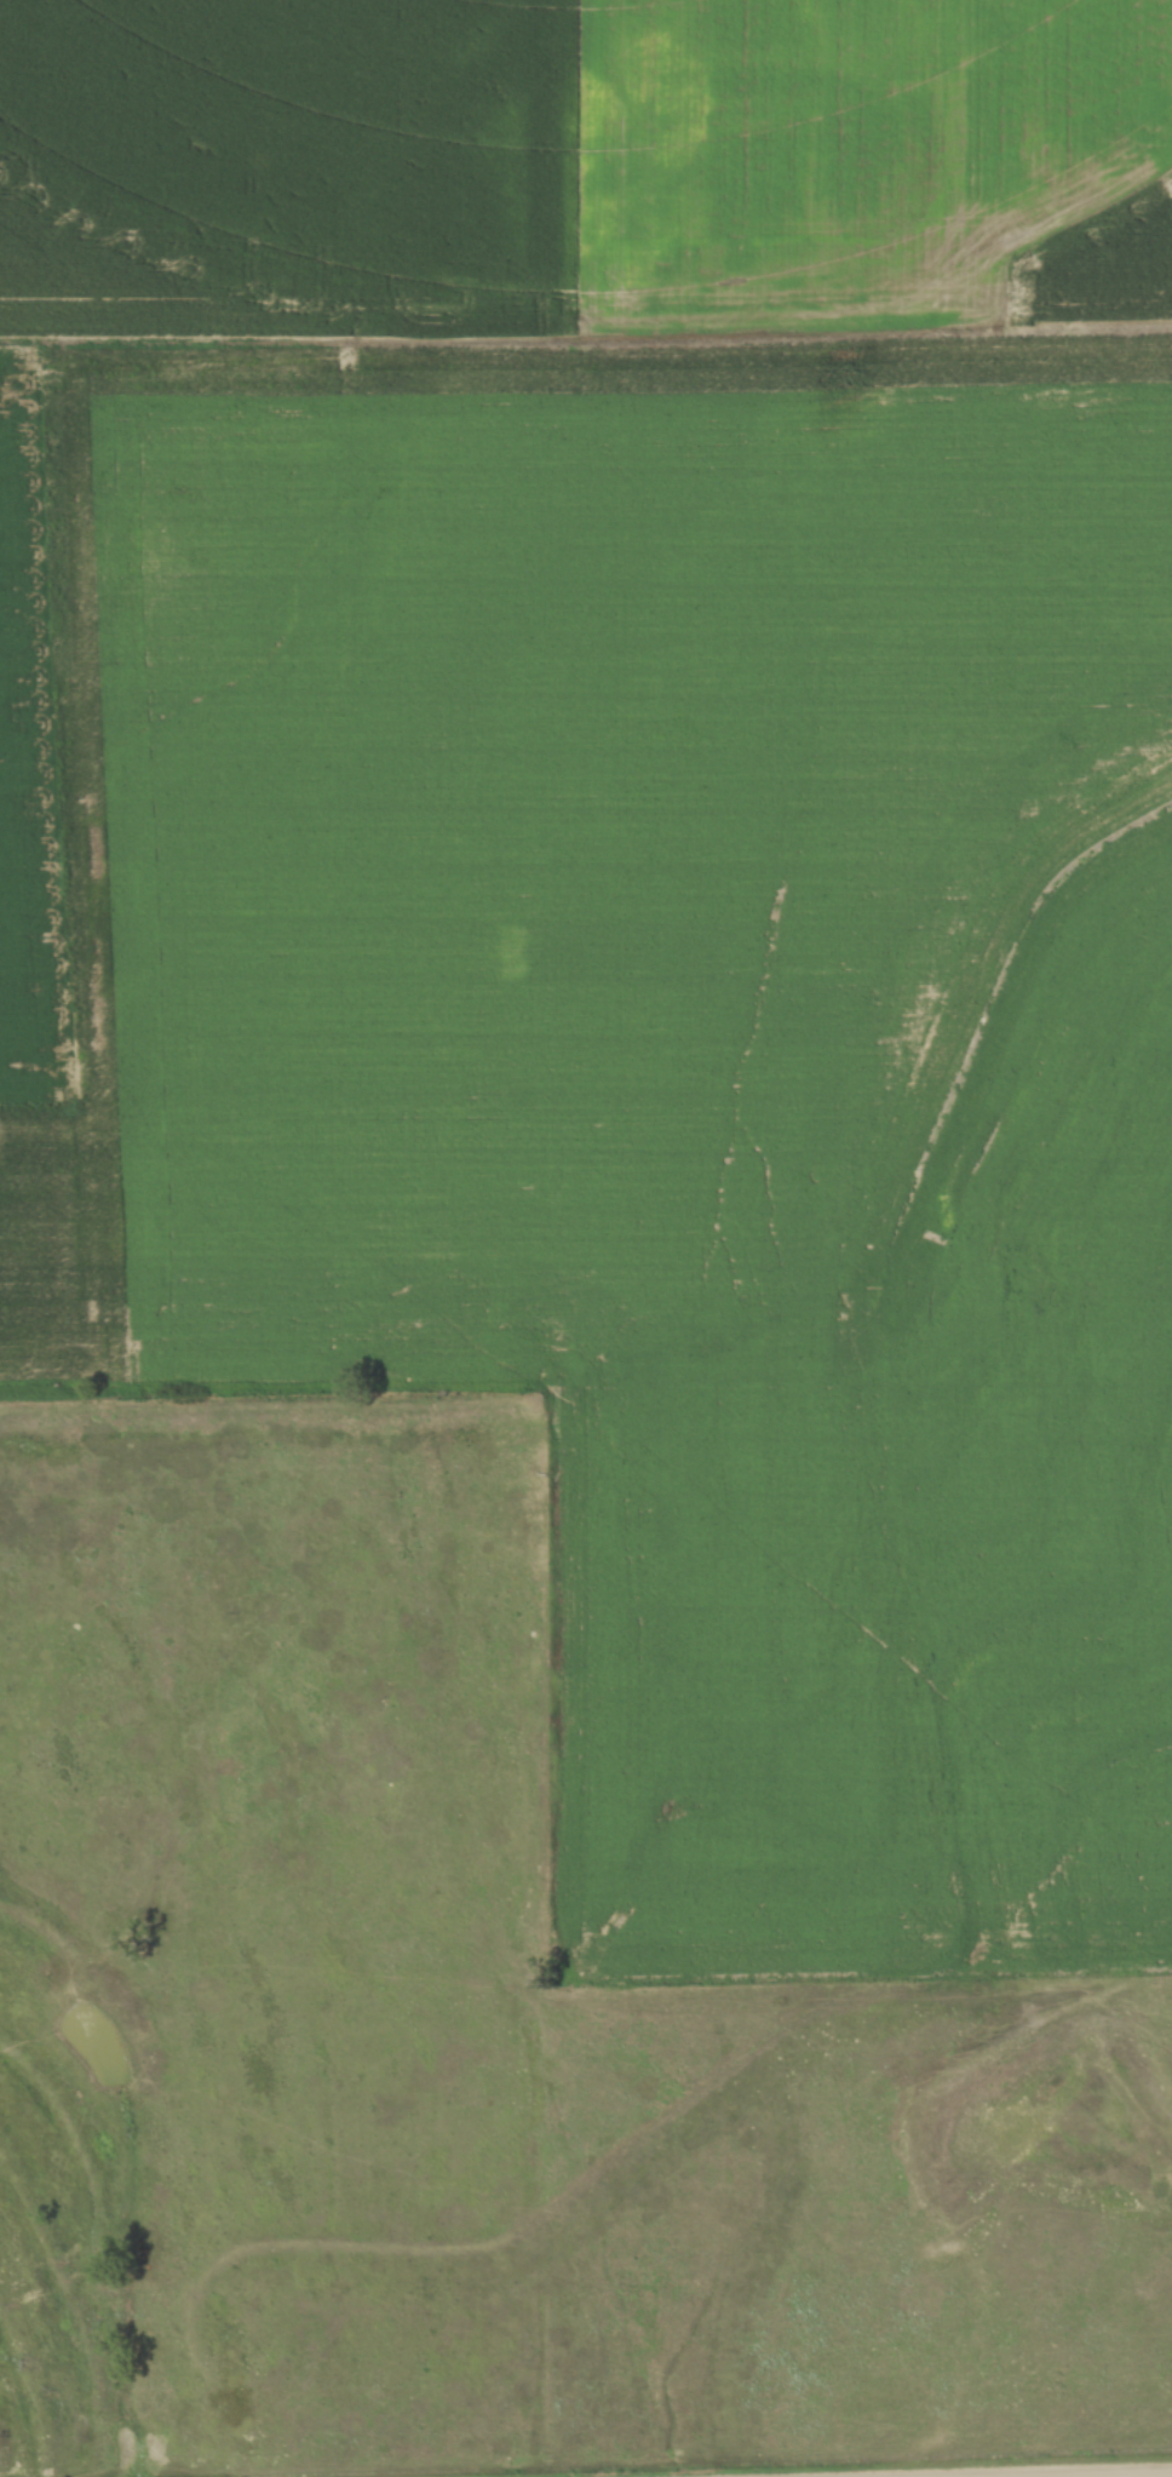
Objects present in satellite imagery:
road: (1081, 2475)

